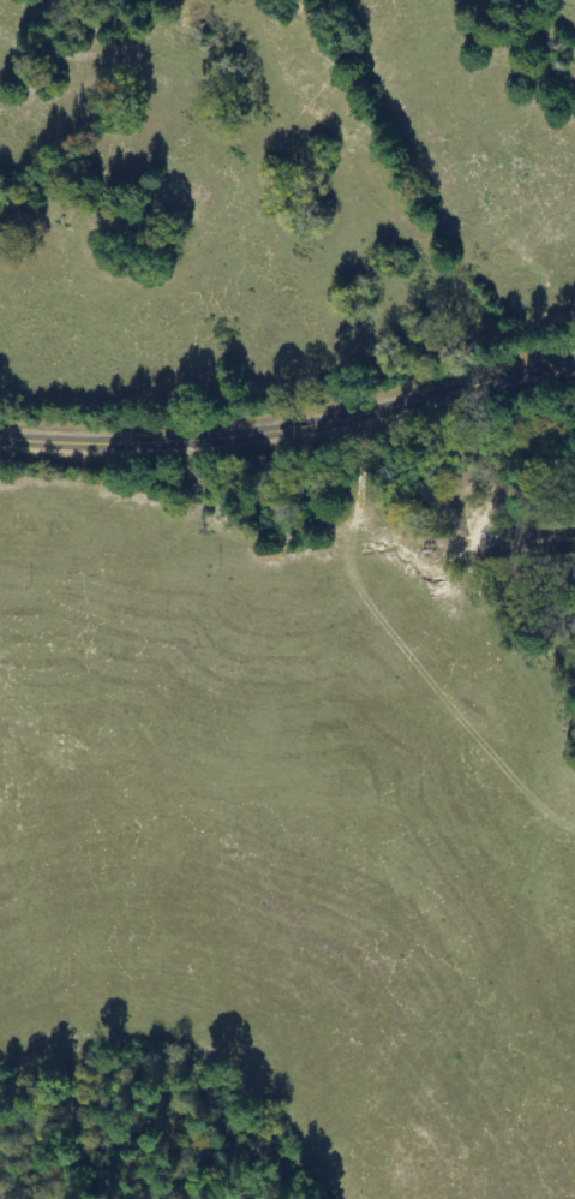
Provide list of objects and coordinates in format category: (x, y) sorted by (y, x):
road: (291, 425)

